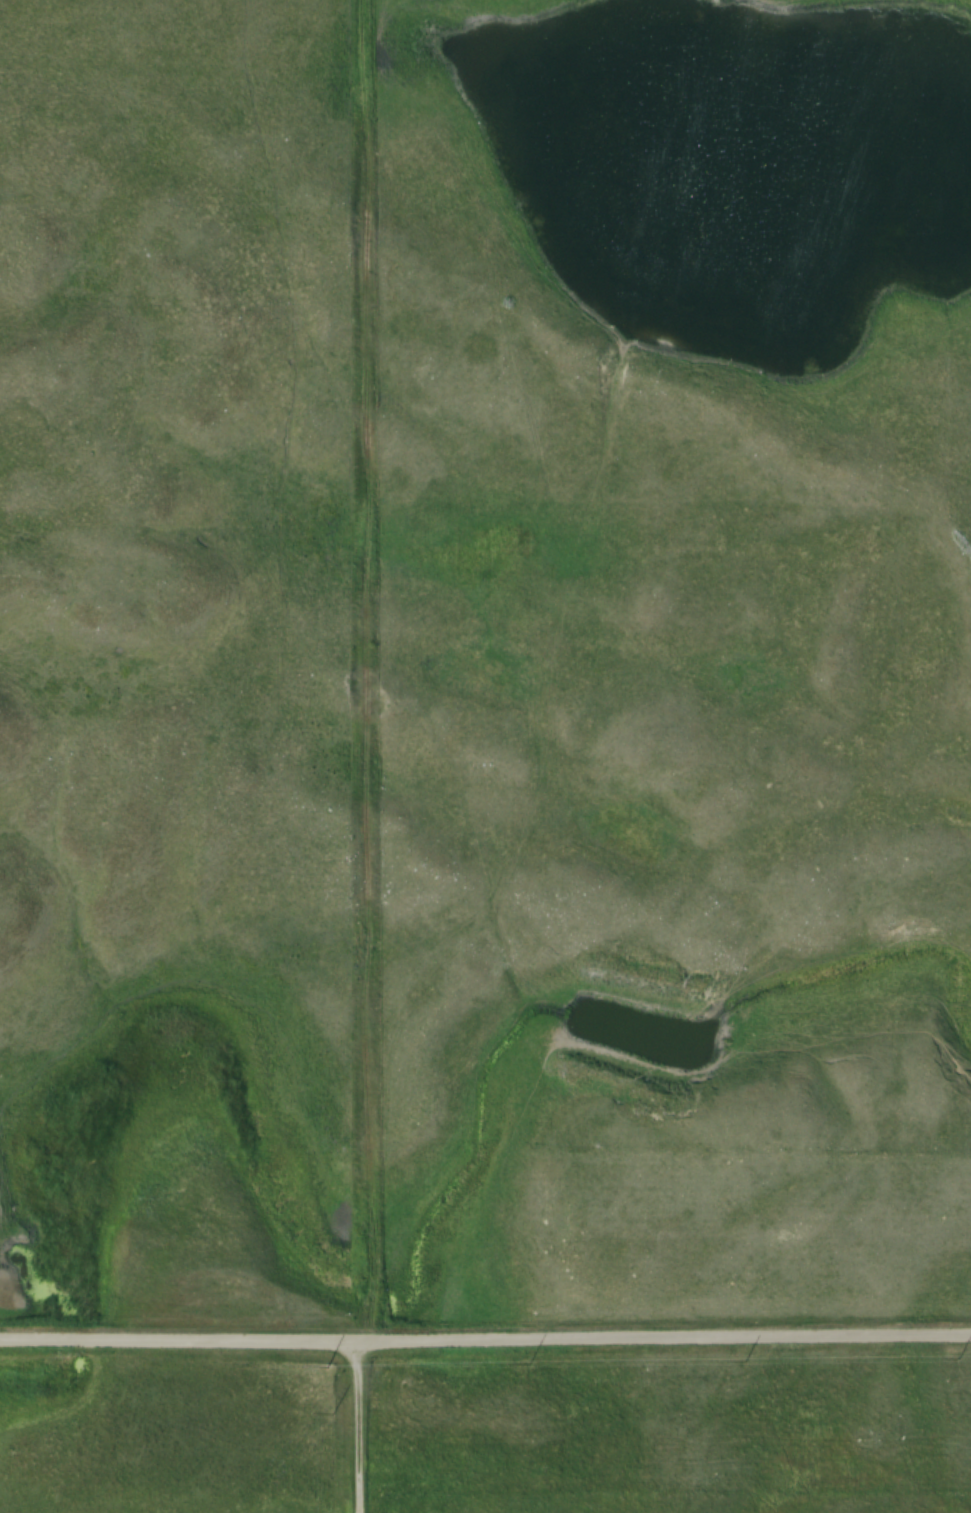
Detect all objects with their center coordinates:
road: (374, 673)
road: (740, 1342)
road: (190, 1344)
road: (445, 1345)
road: (361, 1429)

